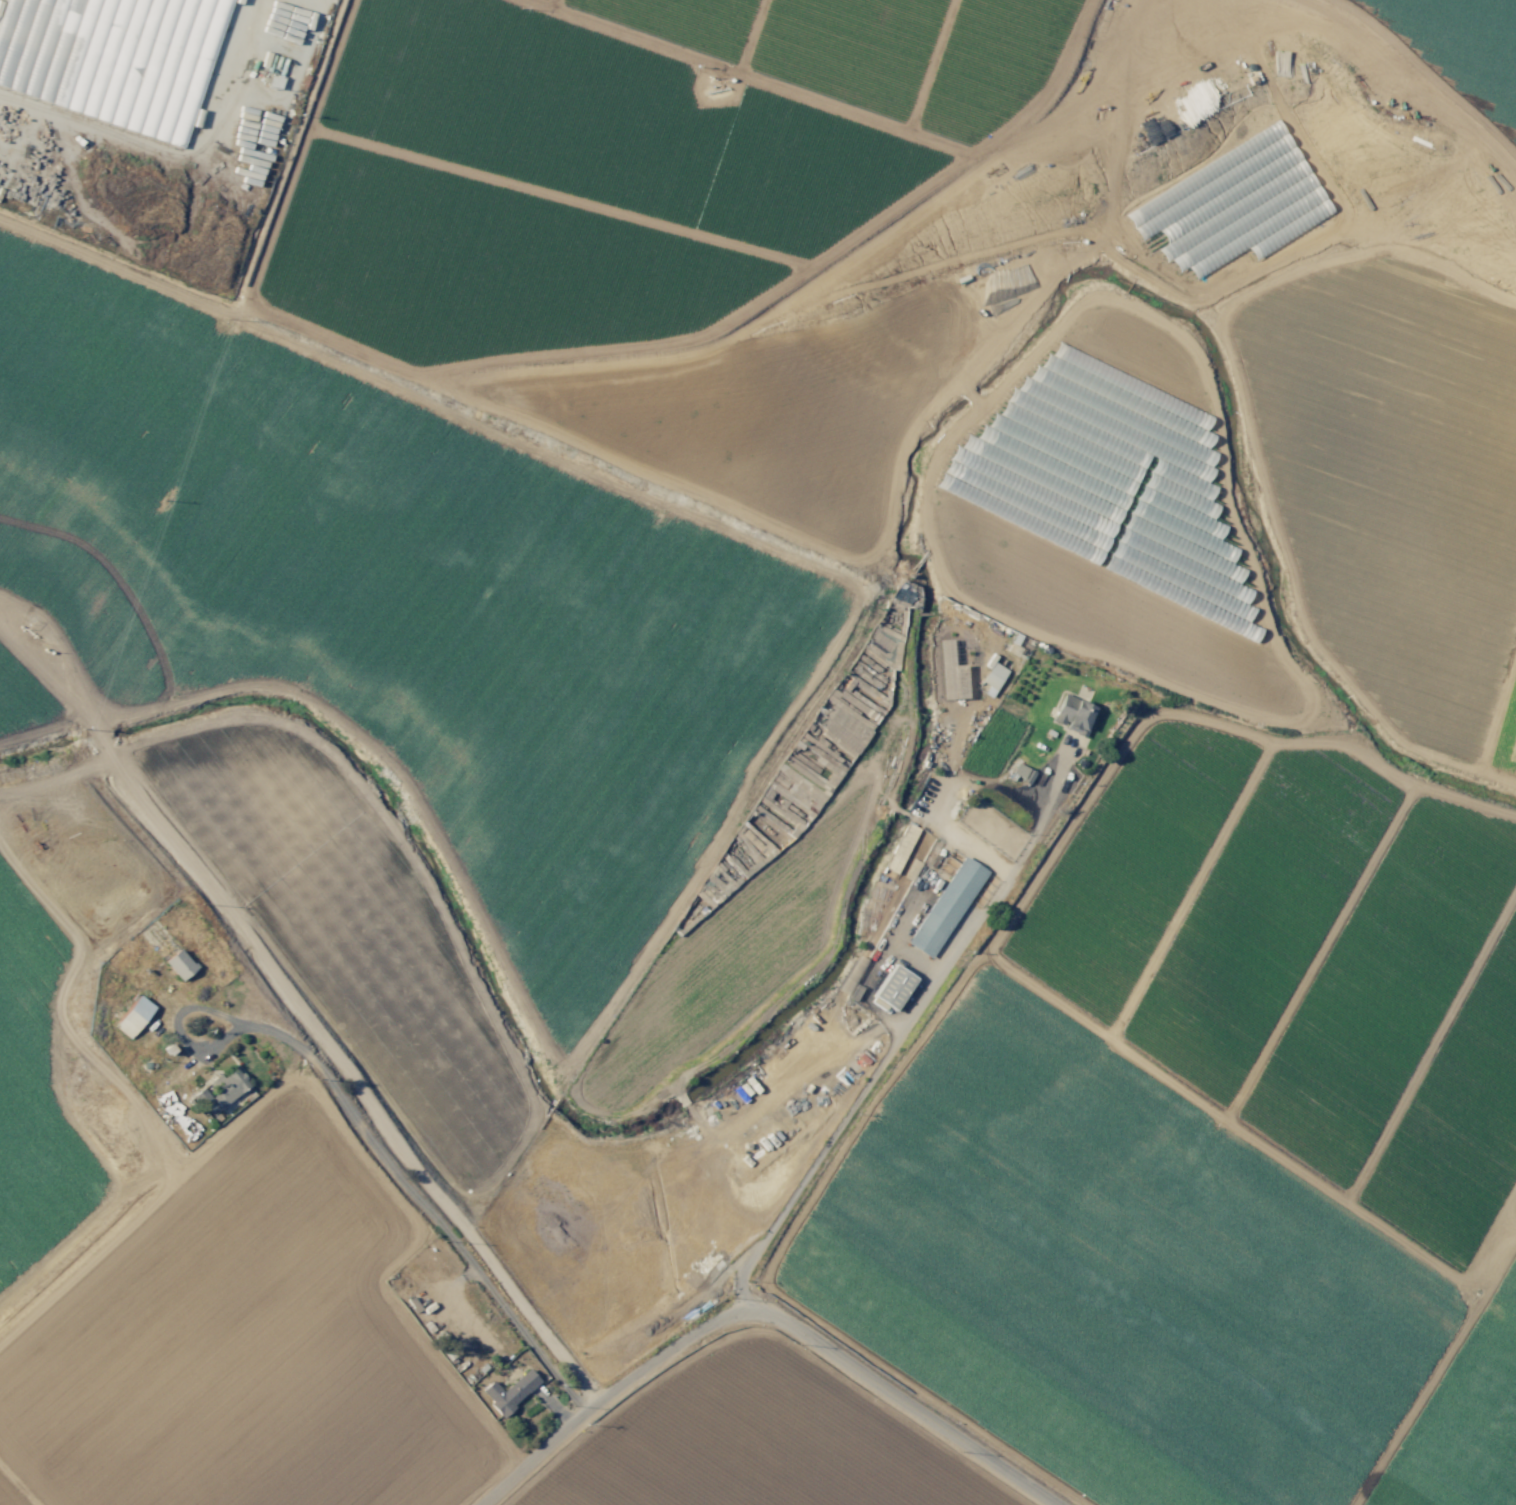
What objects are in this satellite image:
road: (233, 25)
crop: (1459, 52)
building: (113, 58)
road: (142, 68)
road: (927, 68)
road: (1426, 74)
road: (743, 79)
road: (294, 89)
road: (1072, 102)
road: (131, 137)
road: (296, 149)
road: (704, 174)
road: (487, 185)
road: (1363, 252)
road: (724, 323)
road: (1375, 413)
road: (1301, 608)
road: (1473, 647)
building: (947, 673)
road: (45, 675)
building: (993, 679)
building: (1073, 715)
road: (45, 732)
road: (1346, 760)
building: (1022, 773)
road: (58, 779)
crop: (351, 827)
building: (908, 848)
road: (922, 882)
road: (1200, 894)
road: (179, 895)
building: (946, 907)
road: (1323, 955)
building: (179, 964)
road: (955, 984)
building: (892, 987)
building: (133, 1016)
road: (904, 1032)
road: (1430, 1061)
road: (340, 1063)
building: (229, 1086)
road: (1230, 1129)
road: (373, 1140)
road: (147, 1207)
road: (1490, 1246)
road: (403, 1249)
road: (766, 1312)
road: (1100, 1326)
road: (1434, 1376)
building: (509, 1392)
road: (933, 1396)
road: (311, 1417)
road: (1439, 1475)
road: (486, 1484)

